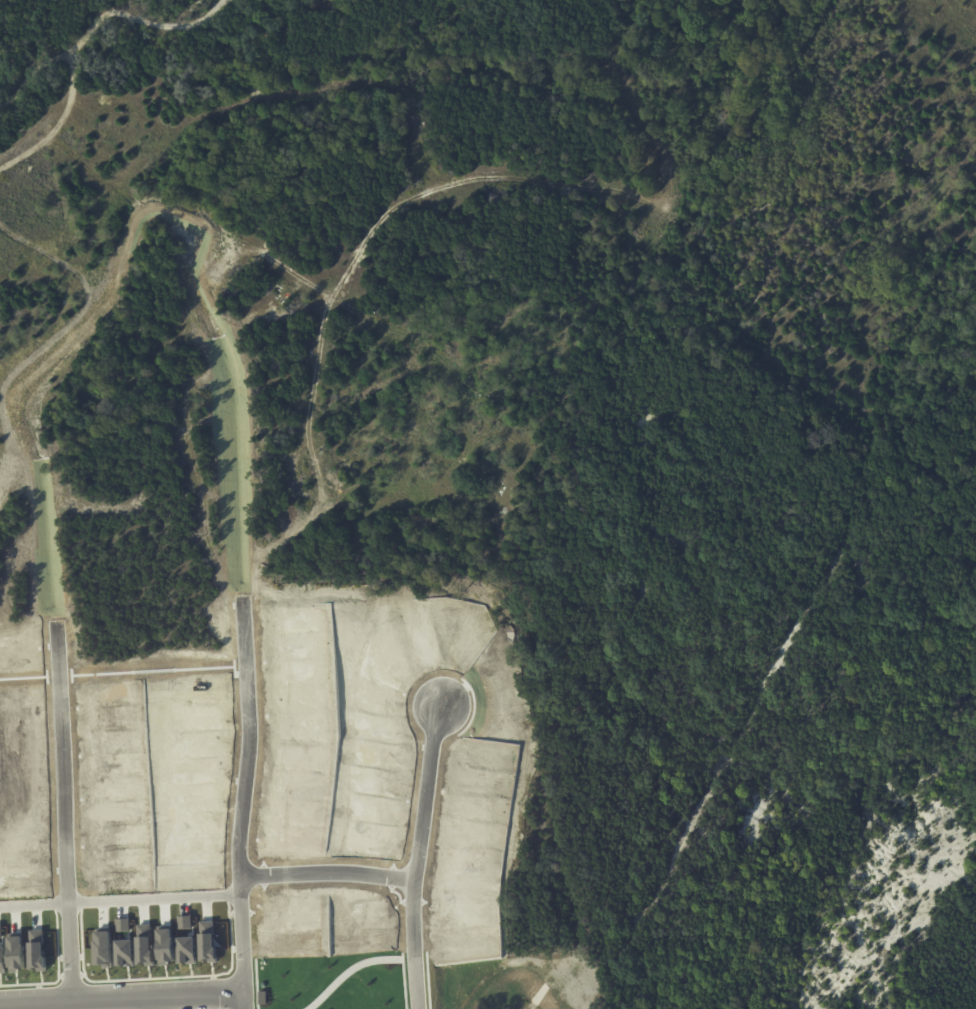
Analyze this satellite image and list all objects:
park: (803, 533)
road: (246, 803)
road: (67, 806)
road: (423, 854)
road: (331, 869)
road: (121, 896)
building: (182, 922)
building: (120, 925)
building: (185, 950)
road: (125, 994)
road: (166, 1000)

